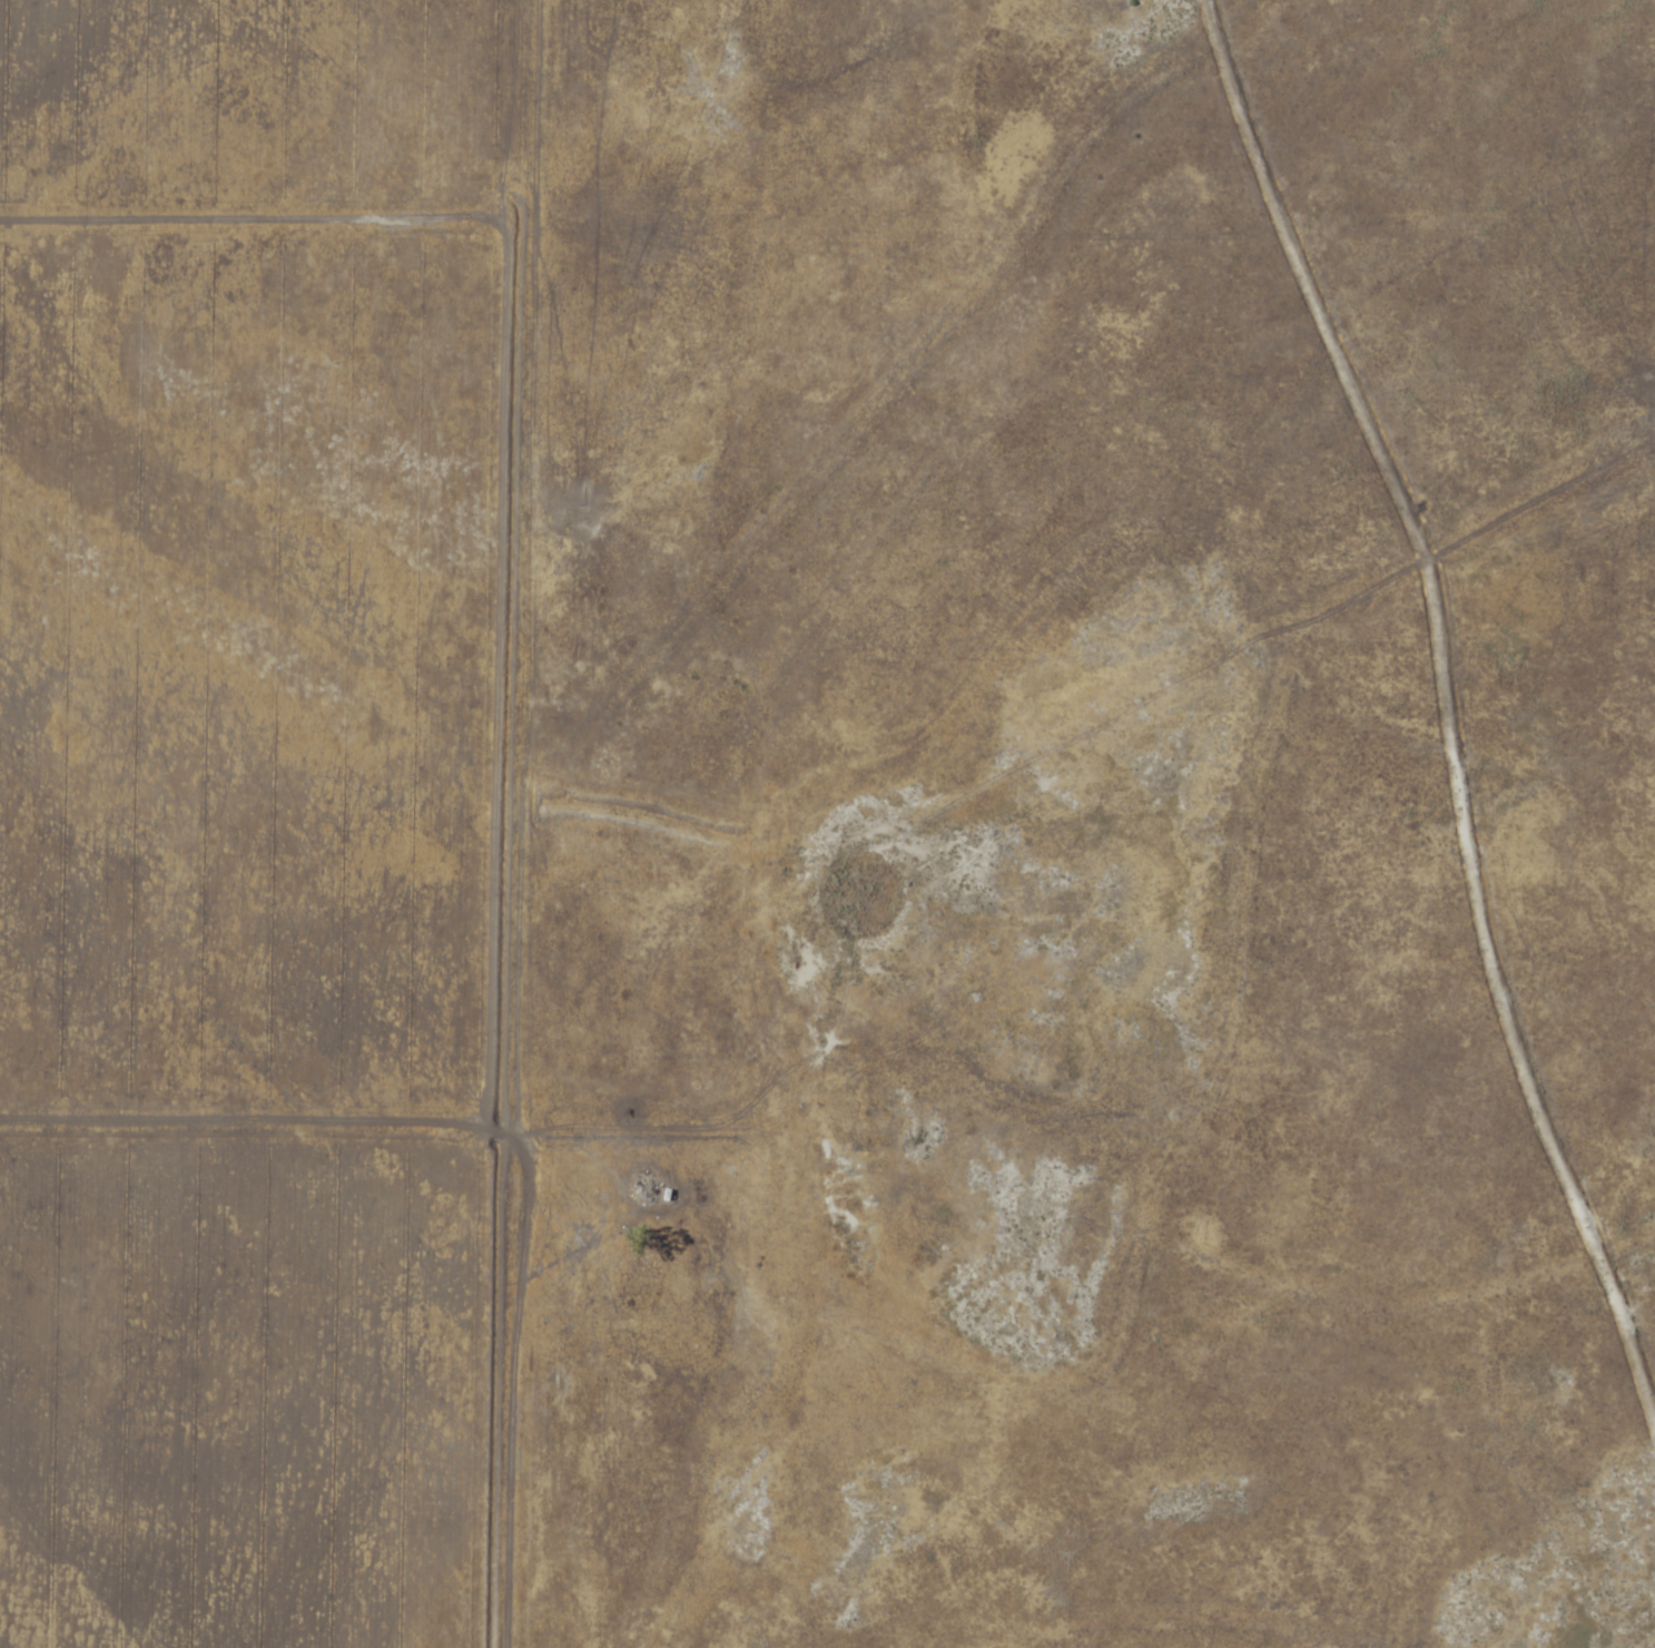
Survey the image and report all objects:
road: (223, 254)
road: (446, 703)
crop: (265, 815)
road: (498, 1167)

